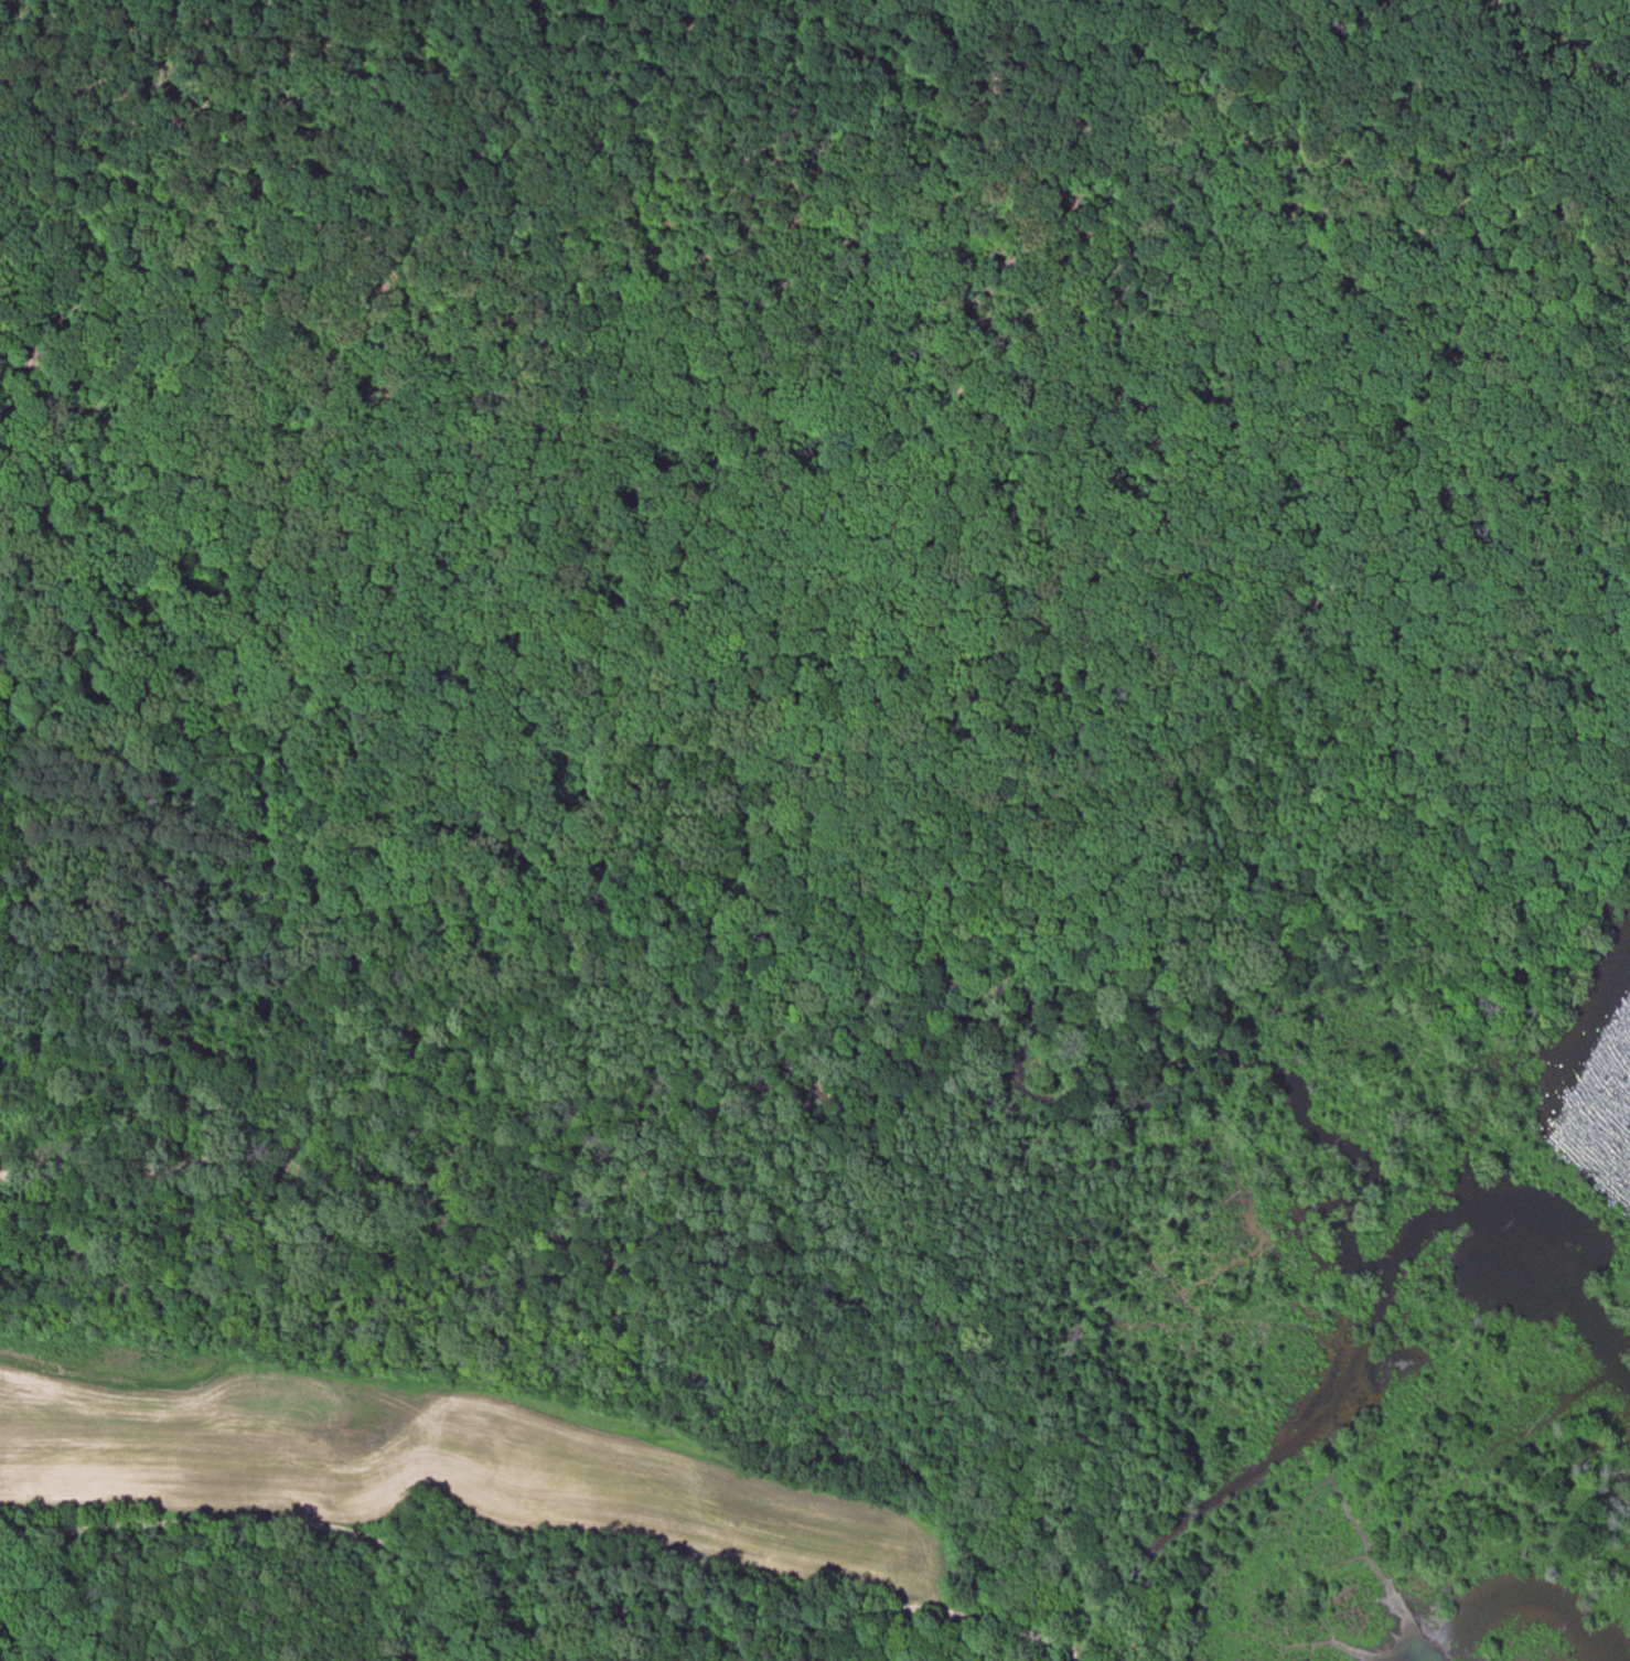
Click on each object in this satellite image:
road: (530, 1561)
river: (1529, 1609)

